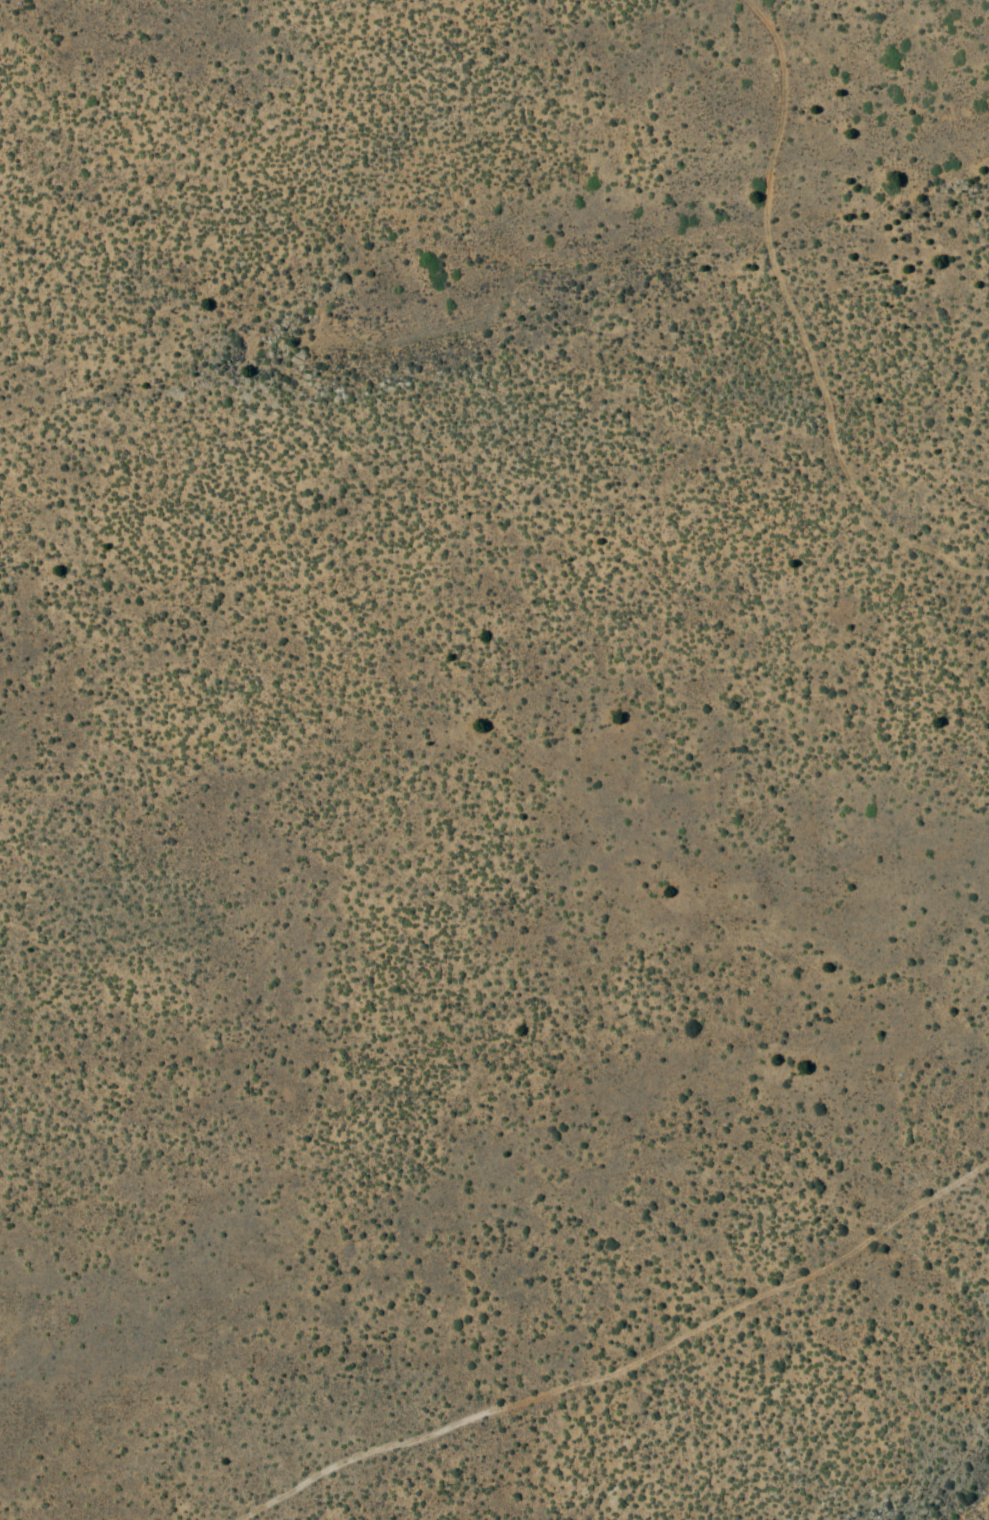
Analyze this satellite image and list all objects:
road: (806, 313)
road: (604, 1364)

